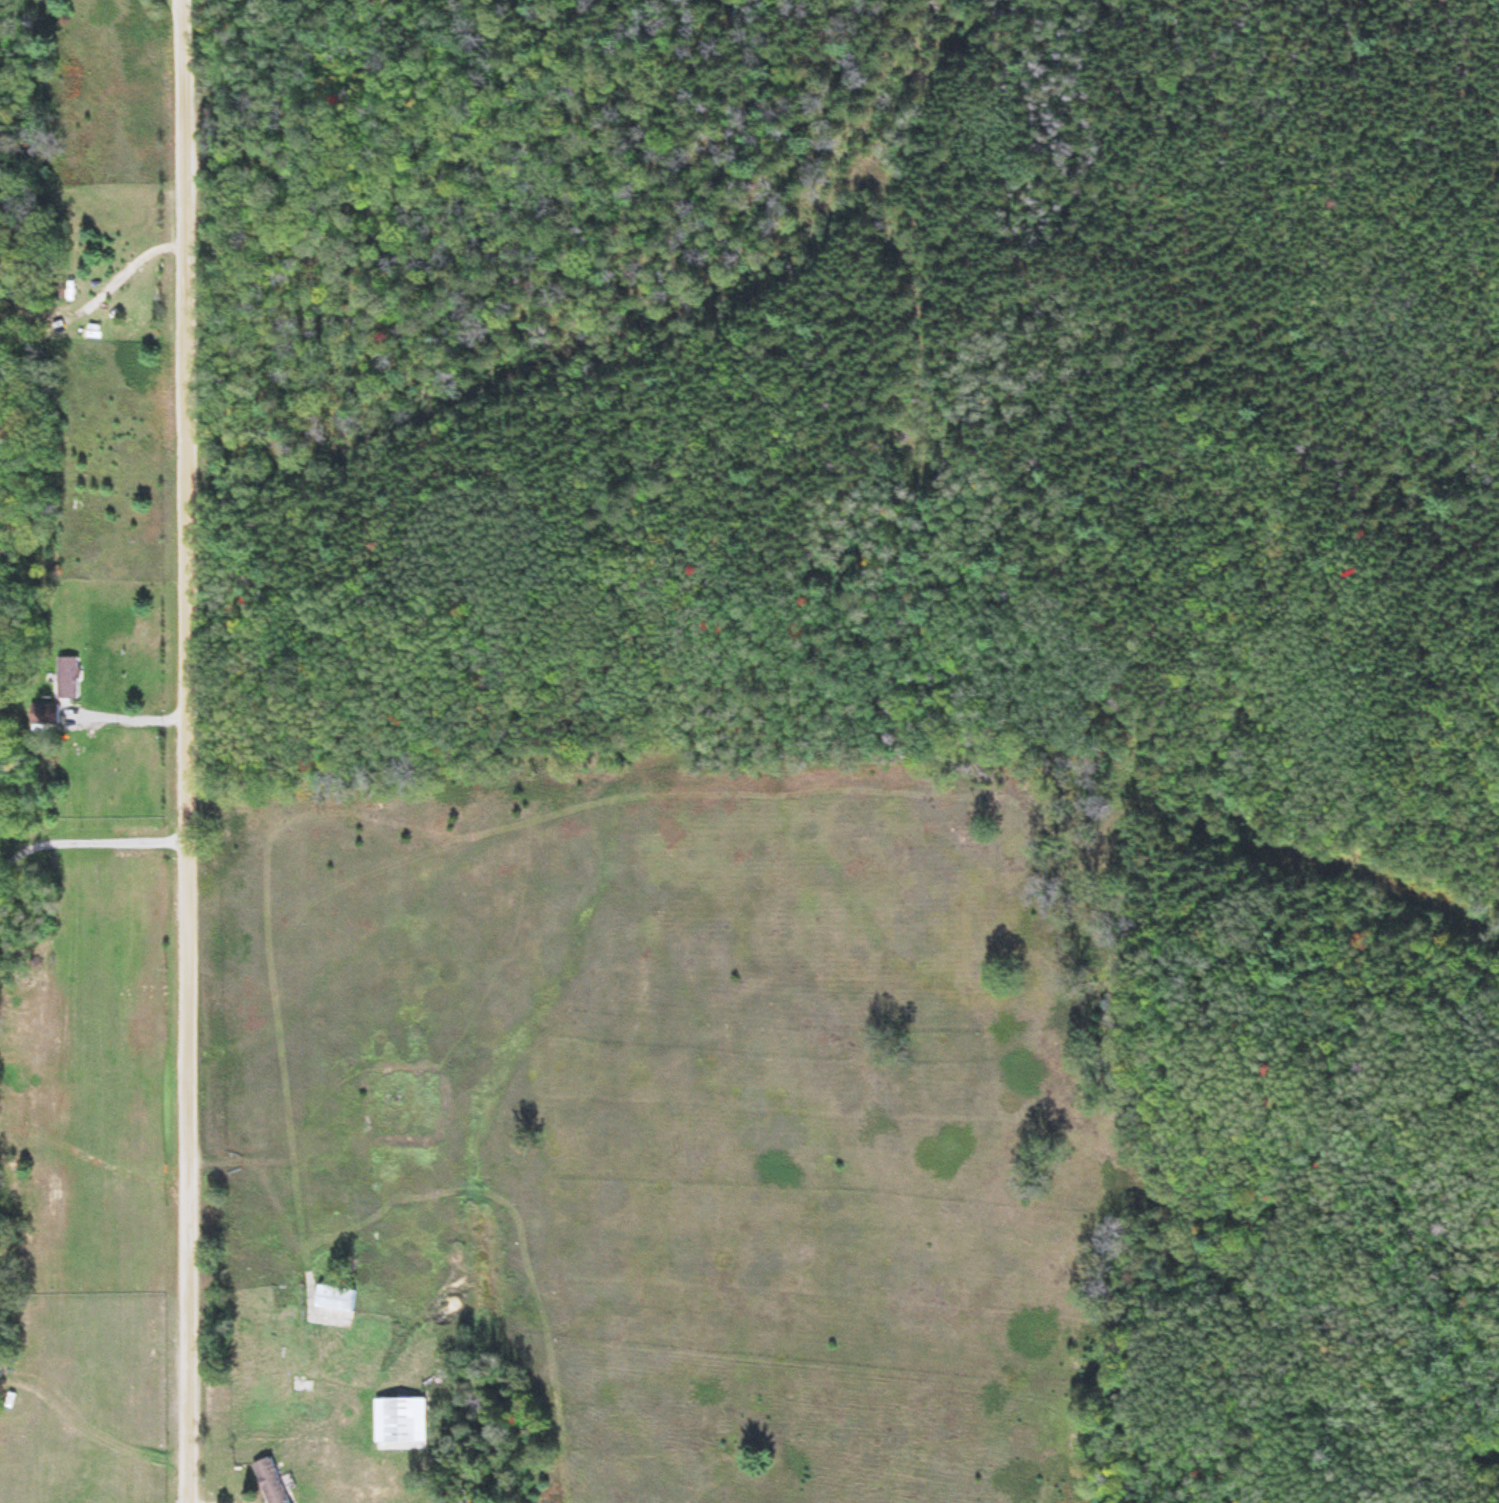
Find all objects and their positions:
building: (69, 680)
building: (45, 716)
road: (192, 751)
building: (336, 1300)
building: (401, 1421)
building: (270, 1482)

